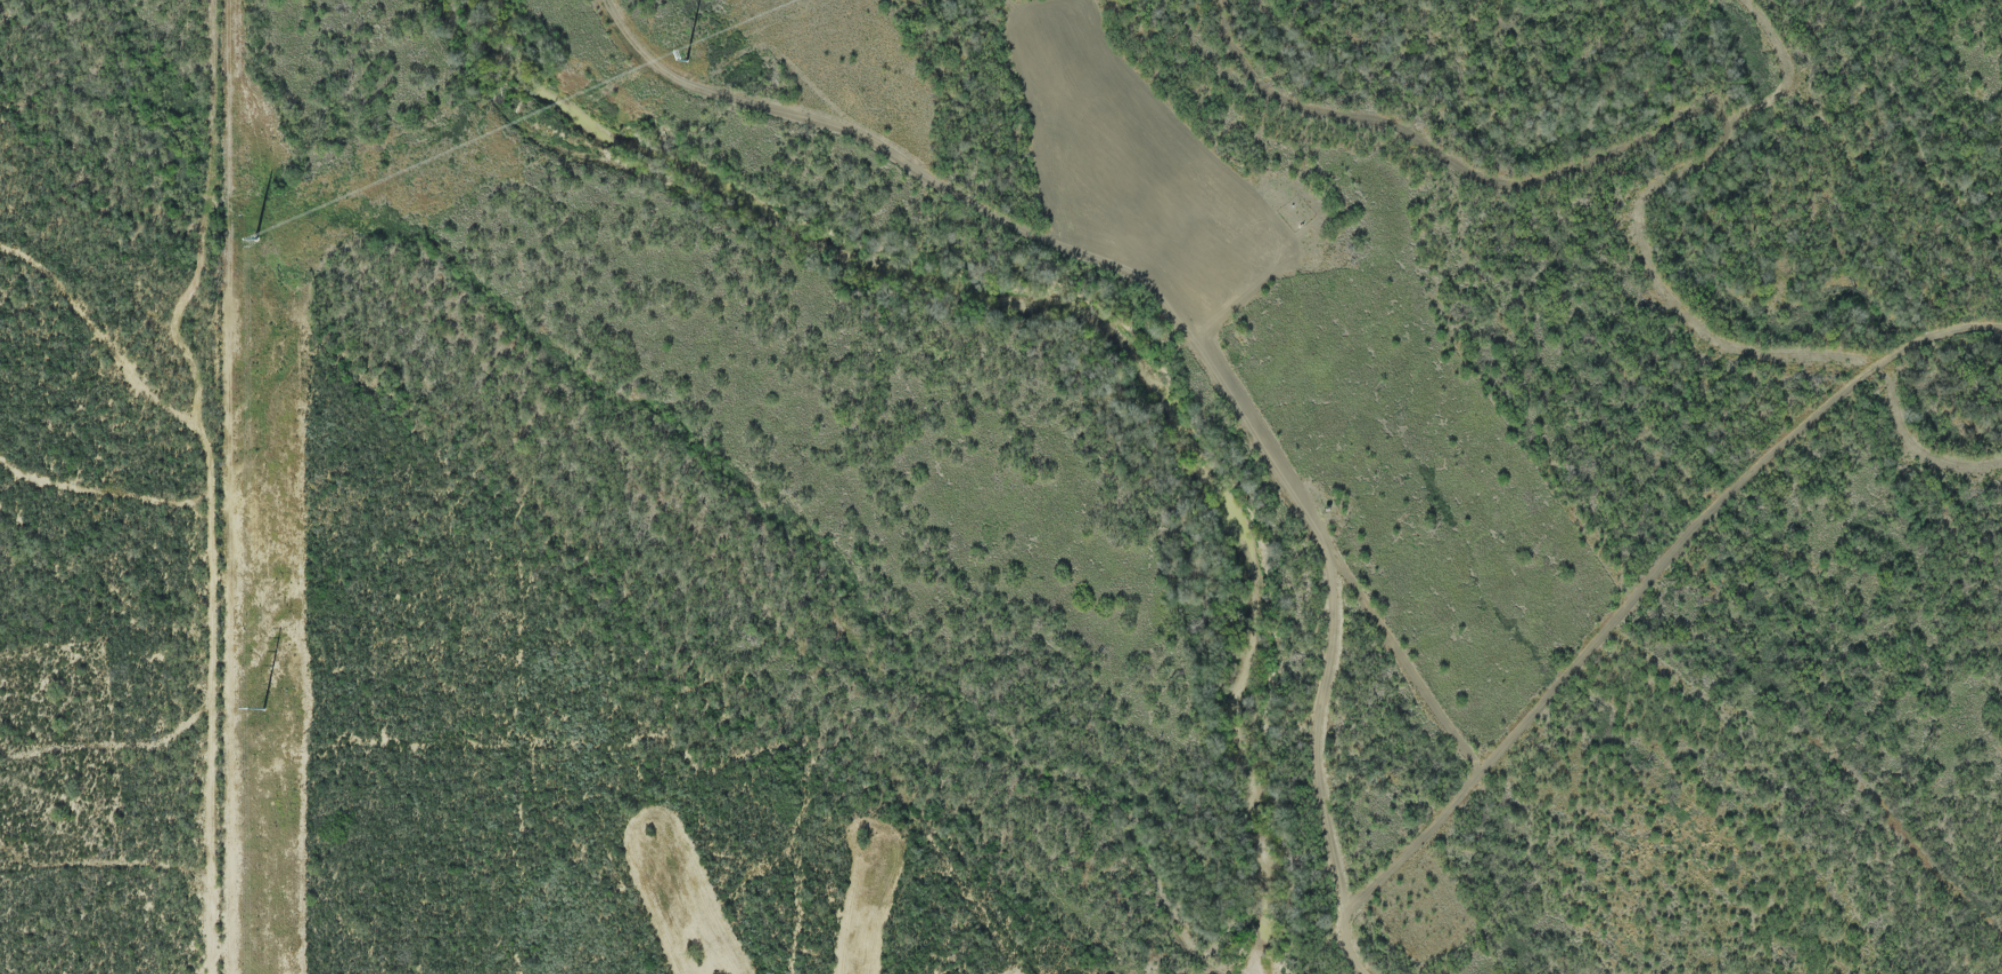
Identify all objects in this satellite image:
power tower: (684, 57)
power tower: (253, 236)
river: (1093, 322)
power tower: (260, 708)

